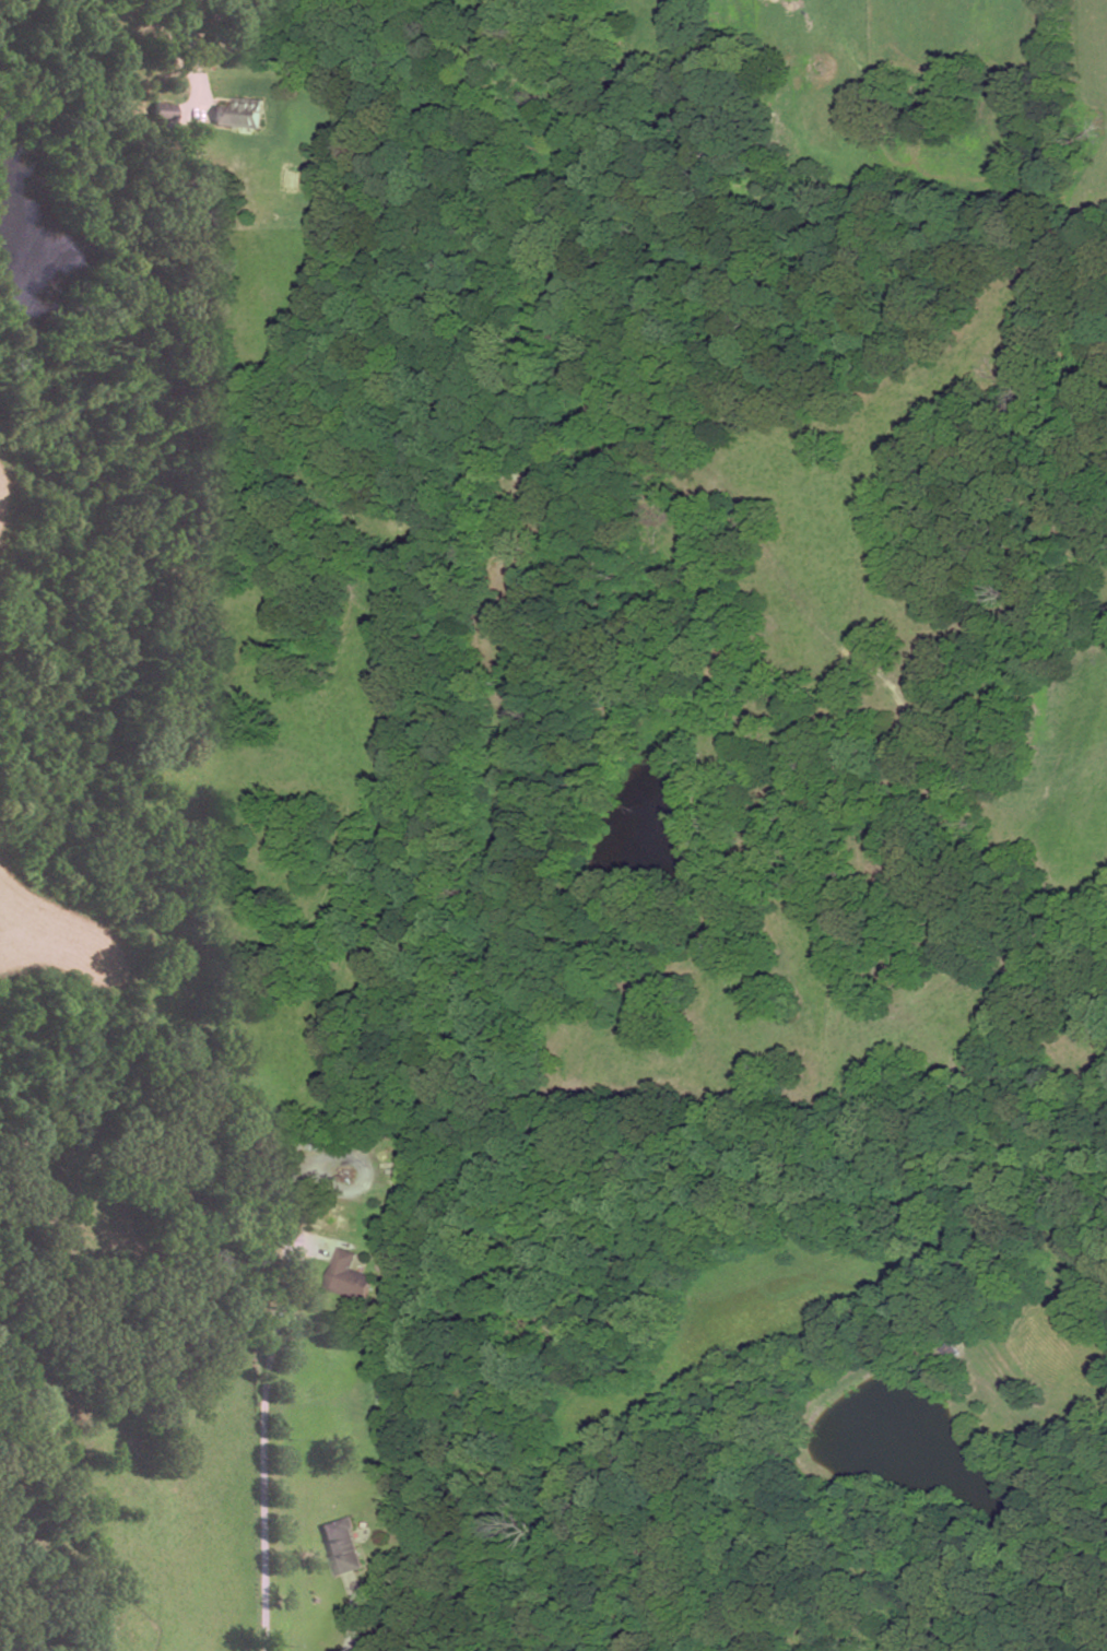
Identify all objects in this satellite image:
road: (192, 48)
building: (161, 113)
building: (240, 115)
crop: (5, 507)
building: (346, 1276)
building: (388, 1394)
road: (264, 1444)
building: (341, 1545)
road: (354, 1614)

